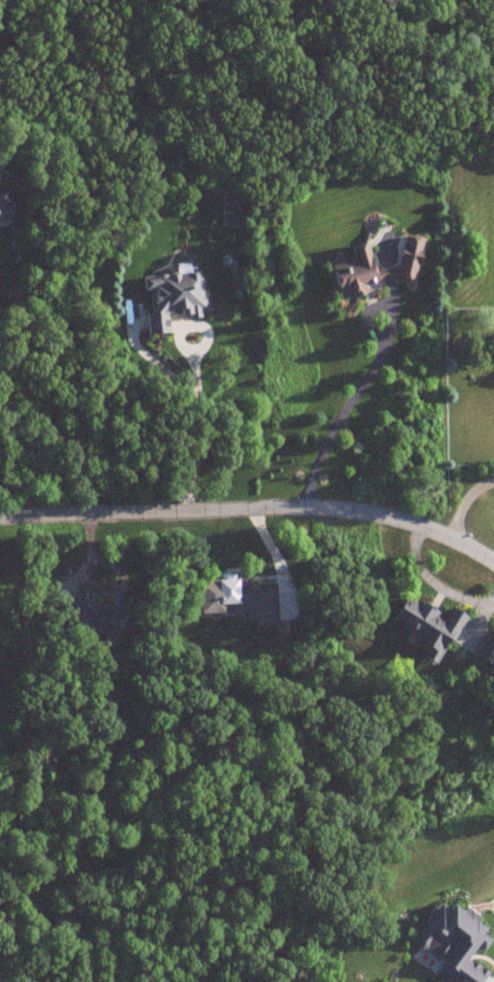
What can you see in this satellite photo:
building: (4, 208)
building: (408, 260)
building: (359, 273)
building: (175, 299)
road: (365, 377)
road: (196, 386)
road: (464, 500)
road: (252, 504)
road: (432, 579)
building: (241, 597)
building: (106, 615)
road: (479, 617)
building: (430, 623)
building: (486, 646)
building: (457, 944)

